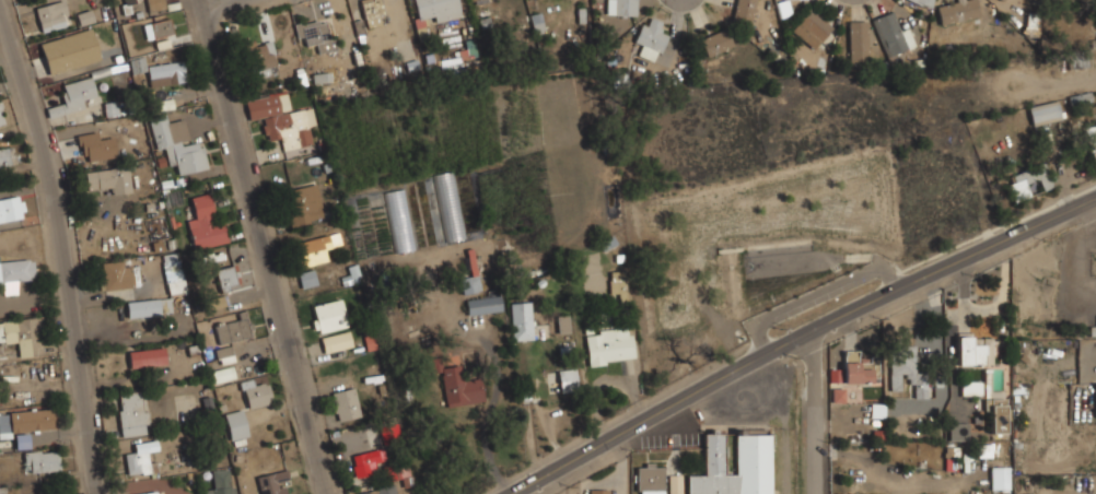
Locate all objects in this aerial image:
building: (478, 0)
building: (1003, 0)
road: (221, 4)
building: (155, 5)
building: (622, 7)
building: (783, 8)
building: (744, 11)
building: (957, 11)
building: (372, 12)
building: (433, 12)
building: (53, 15)
building: (85, 17)
building: (813, 27)
building: (313, 33)
building: (894, 33)
building: (166, 34)
building: (650, 38)
building: (859, 40)
building: (716, 42)
building: (70, 50)
building: (260, 59)
building: (1078, 61)
building: (138, 64)
building: (167, 73)
building: (73, 96)
building: (1080, 98)
building: (110, 109)
building: (1045, 111)
building: (2, 120)
building: (281, 120)
building: (1092, 141)
building: (177, 144)
building: (97, 148)
building: (7, 156)
building: (109, 179)
building: (1027, 181)
building: (303, 204)
building: (448, 207)
building: (12, 209)
building: (399, 221)
building: (205, 223)
road: (909, 227)
road: (68, 243)
road: (266, 246)
building: (316, 248)
building: (15, 273)
building: (116, 274)
building: (351, 275)
building: (470, 275)
building: (174, 277)
building: (226, 279)
building: (307, 279)
building: (617, 284)
building: (214, 303)
building: (483, 305)
building: (148, 307)
road: (725, 309)
building: (328, 316)
building: (522, 320)
building: (563, 324)
building: (232, 329)
building: (1093, 331)
building: (22, 336)
road: (800, 337)
building: (337, 342)
building: (609, 344)
building: (975, 350)
building: (224, 355)
building: (147, 357)
building: (859, 368)
building: (909, 370)
building: (224, 375)
building: (567, 380)
building: (459, 383)
building: (971, 388)
building: (256, 393)
building: (838, 395)
building: (346, 403)
building: (1095, 410)
building: (132, 413)
road: (809, 413)
building: (998, 419)
building: (25, 424)
building: (236, 424)
building: (959, 432)
building: (754, 454)
building: (139, 457)
building: (42, 461)
building: (366, 461)
building: (1001, 478)
building: (650, 479)
building: (272, 482)
building: (219, 483)
building: (675, 484)
building: (384, 490)
building: (599, 492)
building: (147, 493)

